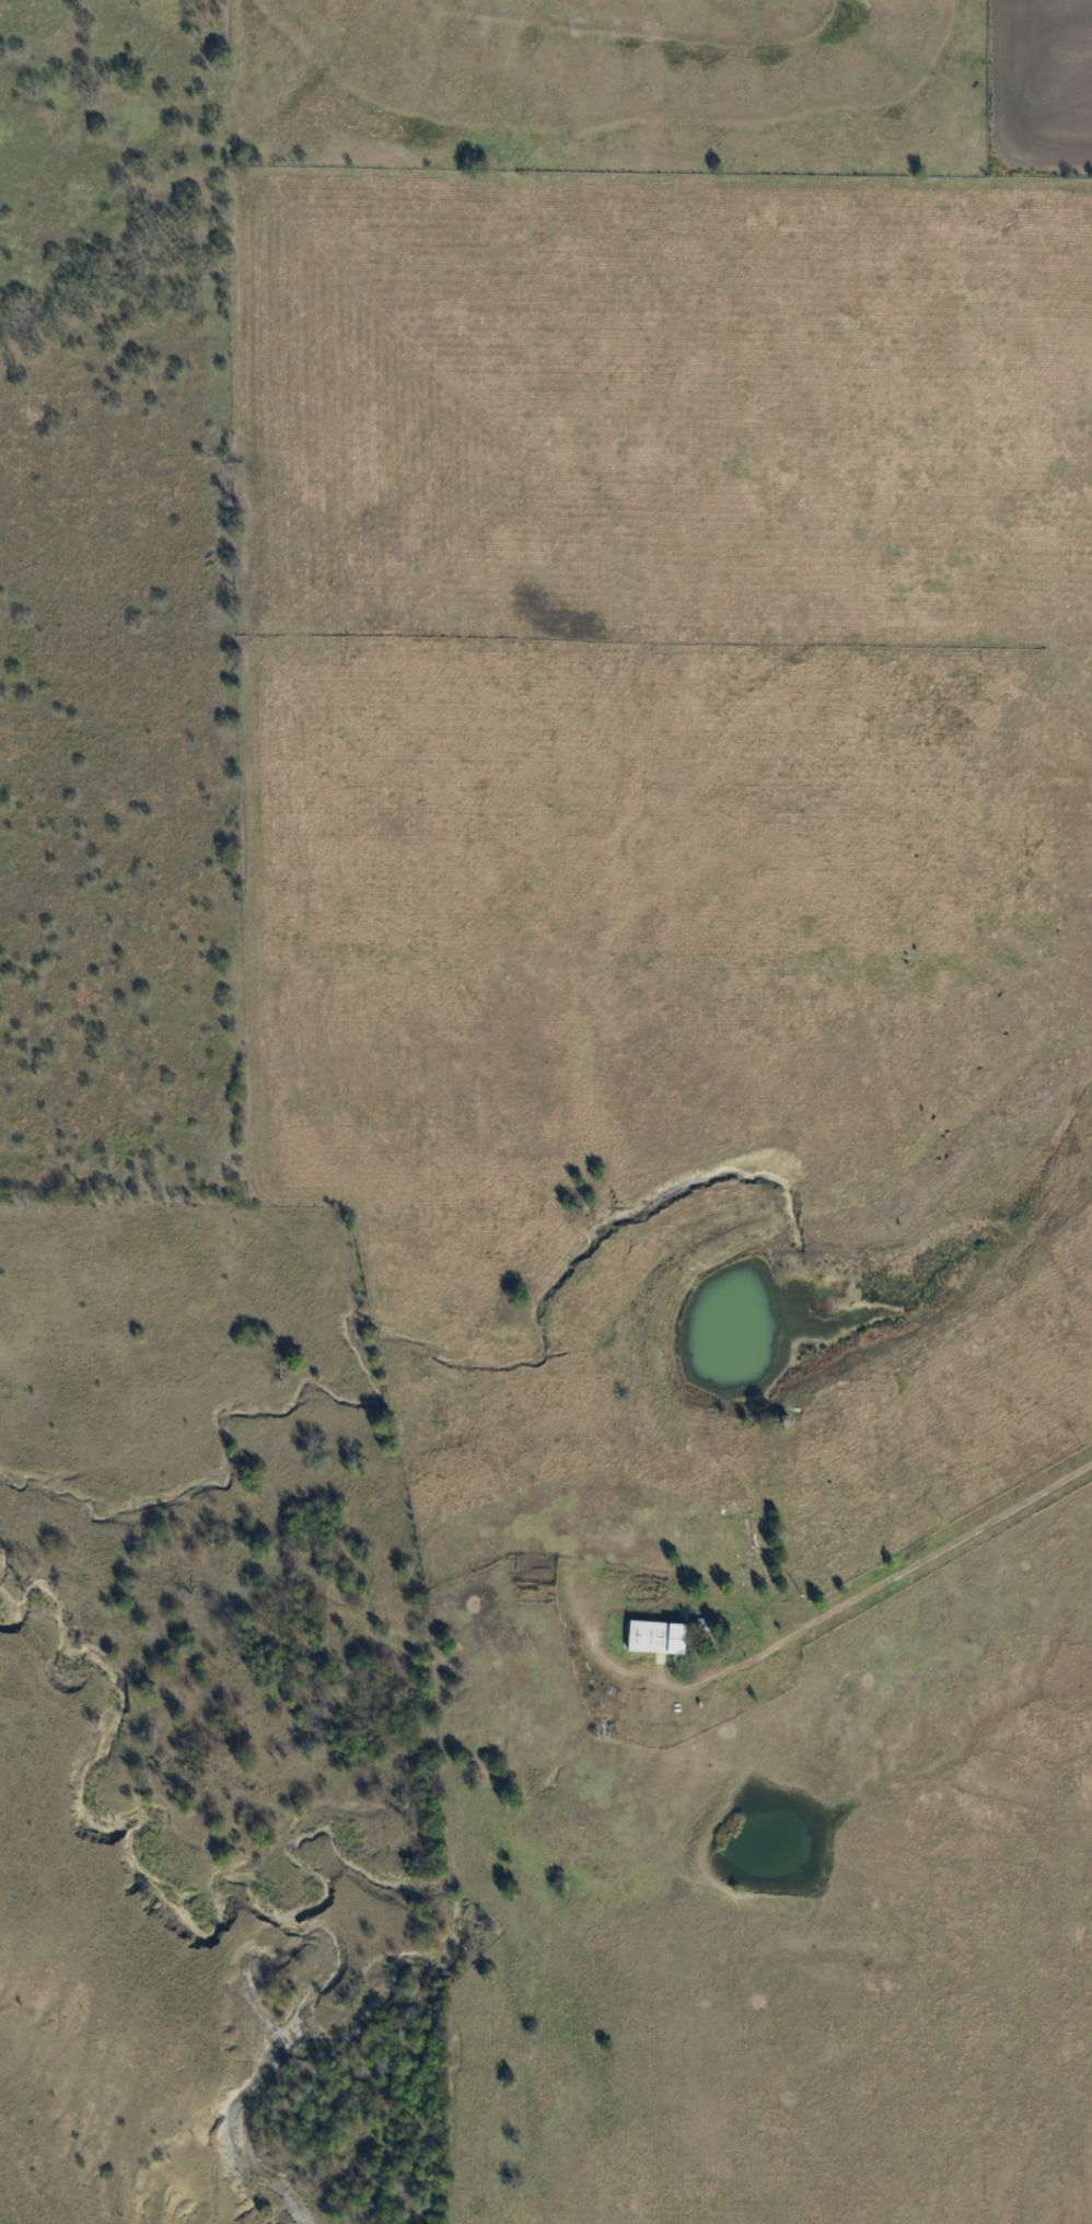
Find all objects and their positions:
building: (744, 1540)
road: (901, 1571)
building: (652, 1636)

